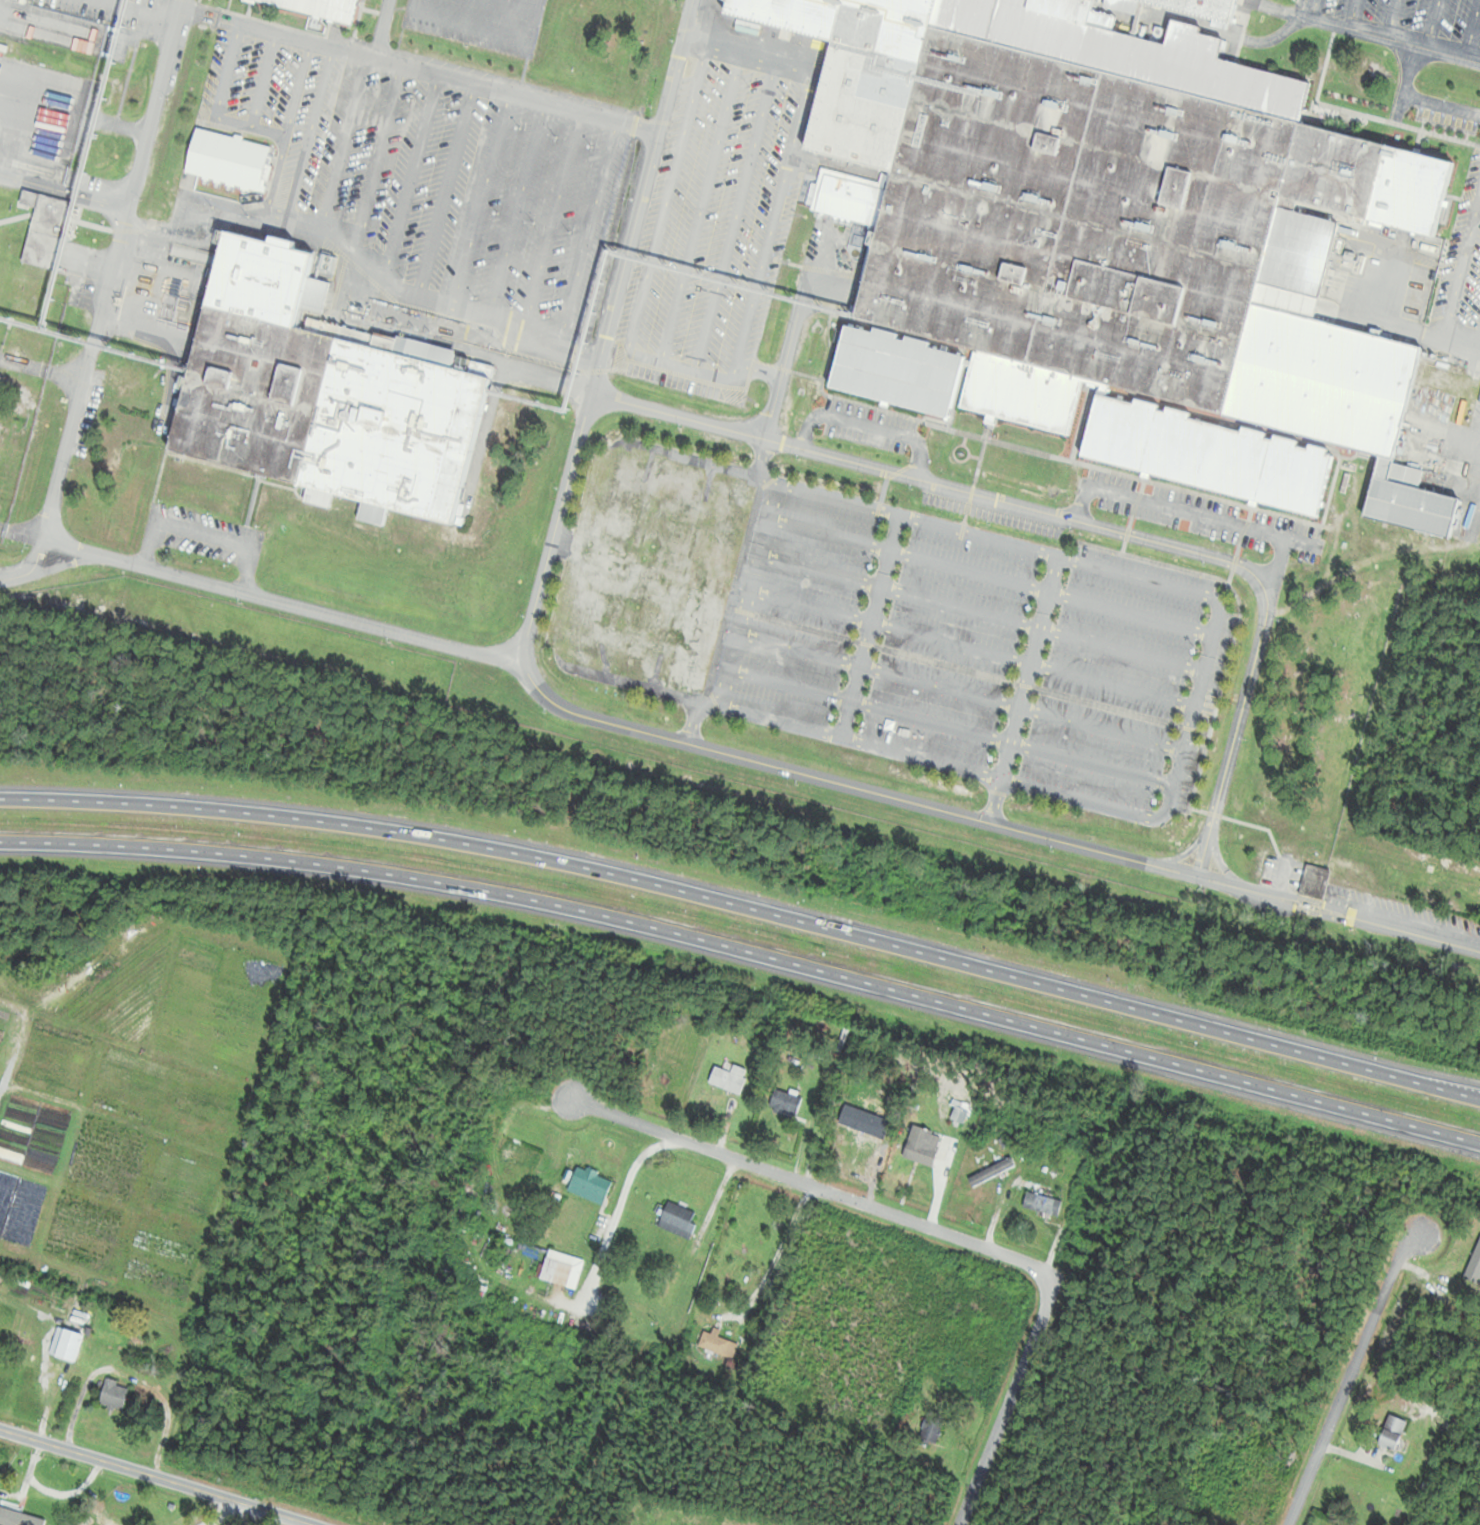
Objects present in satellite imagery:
building: (317, 7)
building: (1047, 143)
building: (227, 159)
building: (1175, 186)
building: (845, 196)
road: (640, 197)
building: (1123, 267)
road: (111, 268)
building: (1013, 272)
building: (896, 370)
building: (322, 392)
road: (1075, 520)
road: (66, 564)
road: (31, 567)
road: (261, 590)
building: (695, 640)
road: (715, 751)
building: (1314, 882)
road: (746, 906)
road: (1338, 913)
road: (747, 950)
building: (729, 1077)
building: (785, 1102)
building: (864, 1128)
building: (920, 1147)
building: (519, 1154)
building: (991, 1171)
building: (590, 1184)
building: (1042, 1204)
road: (618, 1207)
building: (677, 1220)
road: (937, 1231)
road: (778, 1256)
building: (554, 1271)
building: (13, 1332)
building: (66, 1345)
road: (1353, 1378)
building: (112, 1395)
building: (1392, 1433)
road: (167, 1475)
building: (46, 1496)
road: (228, 1512)
building: (107, 1522)

